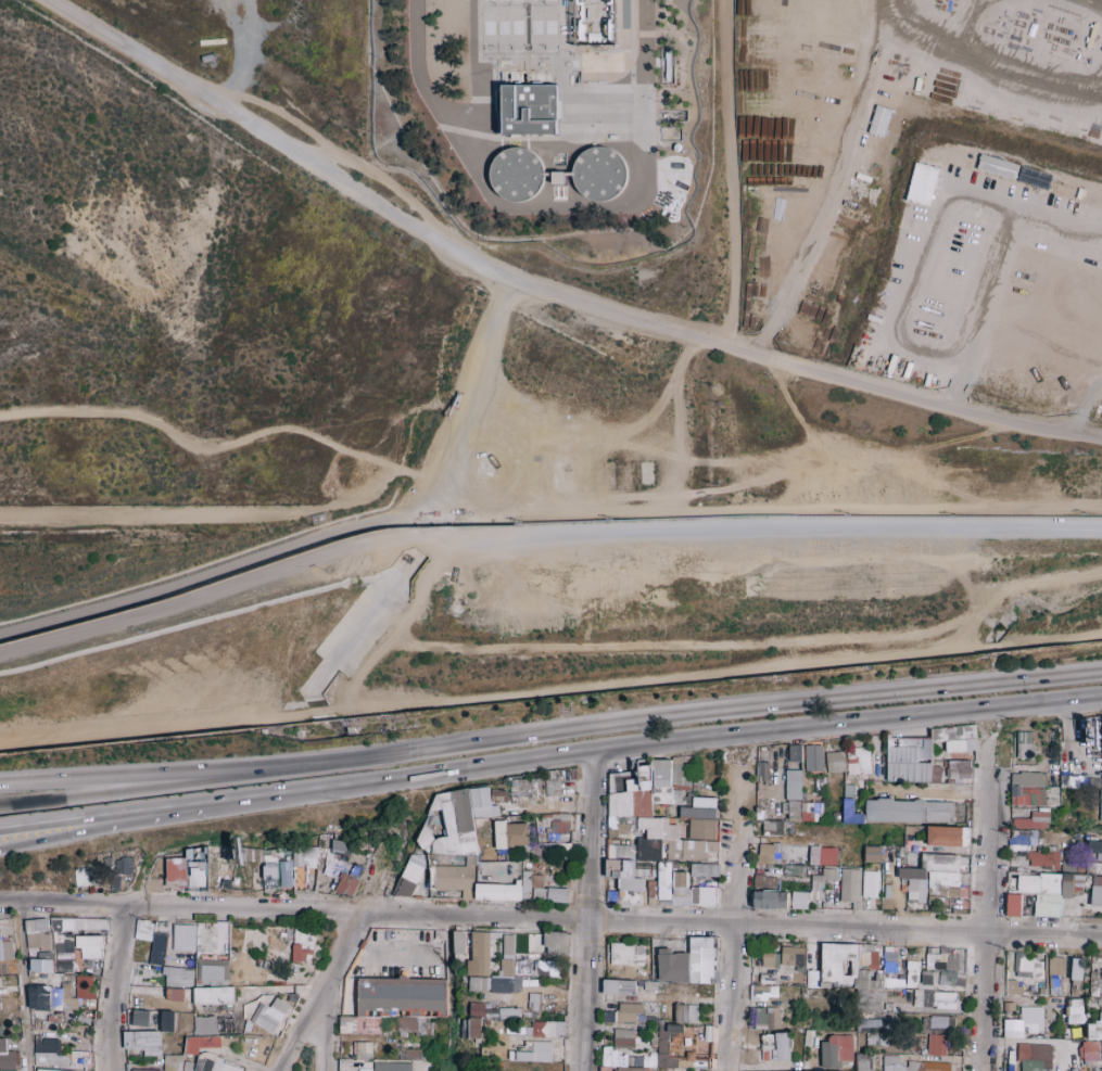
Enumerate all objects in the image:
road: (1006, 38)
building: (528, 110)
building: (878, 120)
wastewater plant: (512, 125)
road: (546, 137)
building: (997, 166)
building: (516, 173)
building: (598, 174)
building: (557, 178)
building: (1034, 178)
road: (828, 179)
building: (921, 183)
road: (555, 204)
road: (1000, 255)
road: (543, 292)
road: (198, 446)
road: (770, 510)
road: (229, 513)
road: (439, 527)
road: (770, 528)
road: (337, 532)
road: (218, 592)
road: (695, 648)
road: (362, 672)
road: (550, 691)
road: (676, 713)
building: (958, 730)
building: (966, 731)
building: (942, 734)
building: (1023, 737)
road: (1064, 742)
road: (655, 744)
building: (910, 744)
building: (926, 745)
building: (960, 745)
building: (1025, 751)
building: (794, 752)
building: (899, 755)
building: (813, 757)
building: (677, 761)
building: (835, 761)
building: (859, 761)
building: (1055, 761)
building: (846, 763)
building: (958, 770)
building: (661, 772)
building: (762, 772)
building: (908, 772)
road: (126, 774)
building: (935, 774)
building: (681, 777)
building: (1021, 779)
building: (620, 780)
building: (641, 780)
building: (849, 781)
building: (1074, 781)
building: (1095, 782)
building: (696, 783)
road: (127, 785)
building: (793, 786)
building: (803, 786)
building: (552, 787)
building: (653, 790)
building: (848, 791)
building: (525, 792)
building: (662, 794)
building: (1016, 795)
building: (1034, 795)
building: (481, 796)
building: (676, 796)
building: (498, 800)
building: (686, 800)
building: (705, 803)
building: (620, 804)
building: (642, 804)
building: (1100, 805)
road: (561, 806)
building: (655, 806)
building: (1013, 806)
building: (784, 807)
building: (533, 811)
building: (794, 811)
building: (847, 811)
building: (892, 811)
building: (482, 812)
building: (811, 812)
building: (937, 812)
building: (960, 812)
building: (505, 813)
building: (697, 813)
building: (759, 814)
road: (104, 815)
building: (546, 817)
building: (560, 817)
building: (836, 817)
building: (857, 818)
building: (506, 819)
building: (625, 819)
building: (646, 823)
building: (968, 823)
building: (1031, 823)
building: (557, 827)
road: (105, 828)
building: (623, 828)
building: (772, 828)
building: (702, 829)
building: (670, 830)
building: (908, 830)
building: (501, 834)
building: (517, 834)
building: (945, 836)
building: (964, 837)
building: (549, 838)
building: (558, 838)
building: (1091, 838)
building: (1030, 840)
building: (609, 841)
building: (1094, 846)
building: (339, 847)
building: (205, 850)
building: (280, 850)
building: (571, 850)
building: (649, 850)
building: (689, 850)
building: (215, 851)
building: (562, 851)
building: (267, 852)
building: (309, 852)
building: (320, 852)
building: (621, 852)
building: (230, 854)
building: (770, 854)
building: (872, 854)
building: (250, 855)
building: (503, 855)
building: (284, 856)
building: (823, 856)
building: (297, 857)
building: (327, 857)
building: (1041, 857)
building: (416, 858)
building: (425, 858)
building: (269, 860)
building: (471, 860)
building: (291, 862)
building: (309, 863)
building: (939, 863)
building: (363, 864)
building: (847, 864)
building: (341, 865)
building: (646, 865)
building: (123, 866)
building: (1055, 866)
building: (1068, 866)
building: (674, 867)
building: (1094, 867)
building: (621, 868)
building: (221, 869)
building: (704, 869)
building: (1012, 869)
building: (797, 870)
building: (1023, 870)
building: (1081, 870)
building: (176, 871)
building: (270, 871)
building: (329, 871)
building: (357, 871)
building: (163, 872)
building: (198, 872)
building: (411, 872)
building: (645, 872)
building: (820, 872)
building: (284, 874)
building: (829, 874)
building: (912, 874)
building: (80, 876)
building: (206, 876)
building: (431, 877)
building: (1009, 877)
building: (94, 878)
building: (299, 878)
building: (454, 878)
building: (945, 879)
building: (664, 880)
building: (1097, 880)
building: (235, 881)
building: (334, 881)
building: (525, 881)
building: (536, 881)
building: (816, 882)
building: (930, 882)
building: (343, 883)
building: (680, 883)
building: (767, 883)
building: (871, 883)
building: (1051, 883)
building: (1074, 883)
building: (115, 884)
building: (638, 884)
building: (849, 884)
building: (1027, 884)
building: (175, 885)
building: (352, 887)
building: (404, 888)
building: (84, 889)
building: (268, 889)
building: (653, 889)
building: (916, 890)
building: (933, 890)
building: (1078, 890)
building: (302, 891)
building: (311, 892)
building: (948, 892)
building: (469, 893)
building: (540, 893)
building: (558, 894)
building: (625, 895)
building: (814, 895)
building: (1095, 895)
building: (418, 896)
building: (612, 896)
building: (694, 896)
building: (707, 896)
building: (682, 900)
building: (771, 900)
building: (932, 900)
building: (799, 901)
building: (913, 901)
building: (947, 902)
road: (985, 902)
building: (1048, 905)
building: (857, 906)
building: (1012, 907)
building: (953, 910)
building: (960, 910)
road: (588, 911)
road: (550, 916)
road: (731, 917)
building: (9, 921)
building: (41, 925)
building: (55, 925)
building: (67, 925)
building: (90, 925)
building: (102, 925)
building: (78, 926)
building: (30, 927)
building: (94, 931)
building: (148, 931)
building: (46, 932)
building: (288, 933)
building: (282, 934)
building: (495, 934)
building: (0, 936)
building: (154, 936)
building: (56, 938)
building: (185, 938)
building: (536, 939)
building: (37, 940)
building: (304, 940)
building: (145, 942)
building: (160, 942)
building: (458, 942)
building: (557, 943)
building: (702, 943)
building: (78, 944)
building: (280, 945)
building: (508, 945)
road: (390, 946)
building: (198, 947)
building: (45, 948)
building: (90, 949)
building: (1, 951)
building: (8, 951)
building: (308, 952)
building: (299, 953)
building: (479, 953)
building: (629, 954)
building: (64, 955)
building: (50, 956)
building: (791, 956)
building: (156, 957)
building: (505, 957)
building: (190, 959)
building: (769, 959)
building: (77, 960)
building: (296, 960)
building: (940, 960)
building: (357, 962)
building: (41, 965)
building: (188, 965)
building: (1055, 966)
building: (360, 967)
building: (507, 967)
building: (1025, 967)
building: (521, 968)
building: (545, 968)
building: (1076, 968)
building: (4, 970)
building: (226, 972)
building: (31, 973)
building: (211, 973)
building: (145, 977)
building: (177, 977)
building: (65, 978)
building: (941, 978)
building: (198, 983)
building: (218, 983)
building: (66, 984)
building: (494, 984)
road: (22, 985)
building: (33, 986)
road: (112, 986)
building: (630, 986)
building: (84, 987)
building: (1012, 987)
building: (4, 991)
building: (164, 991)
building: (0, 992)
building: (66, 992)
building: (762, 992)
building: (177, 993)
road: (320, 993)
building: (190, 995)
building: (33, 996)
building: (214, 996)
building: (42, 998)
building: (55, 998)
building: (934, 999)
building: (533, 1002)
building: (147, 1003)
building: (69, 1004)
building: (396, 1005)
building: (1073, 1011)
building: (509, 1012)
building: (685, 1012)
building: (625, 1013)
building: (269, 1016)
building: (765, 1018)
building: (151, 1019)
building: (477, 1020)
building: (934, 1022)
building: (1023, 1022)
building: (204, 1024)
building: (547, 1029)
building: (623, 1038)
building: (142, 1042)
building: (10, 1044)
building: (935, 1045)
building: (774, 1046)
building: (671, 1048)
building: (48, 1049)
building: (835, 1049)
building: (362, 1050)
building: (533, 1053)
building: (1088, 1053)
building: (410, 1054)
building: (5, 1056)
building: (201, 1057)
building: (1033, 1057)
building: (618, 1058)
building: (862, 1061)
building: (51, 1063)
building: (891, 1063)
building: (345, 1064)
building: (927, 1066)
building: (391, 1067)
building: (630, 1069)
building: (8, 1070)
building: (51, 1070)
building: (140, 1070)

